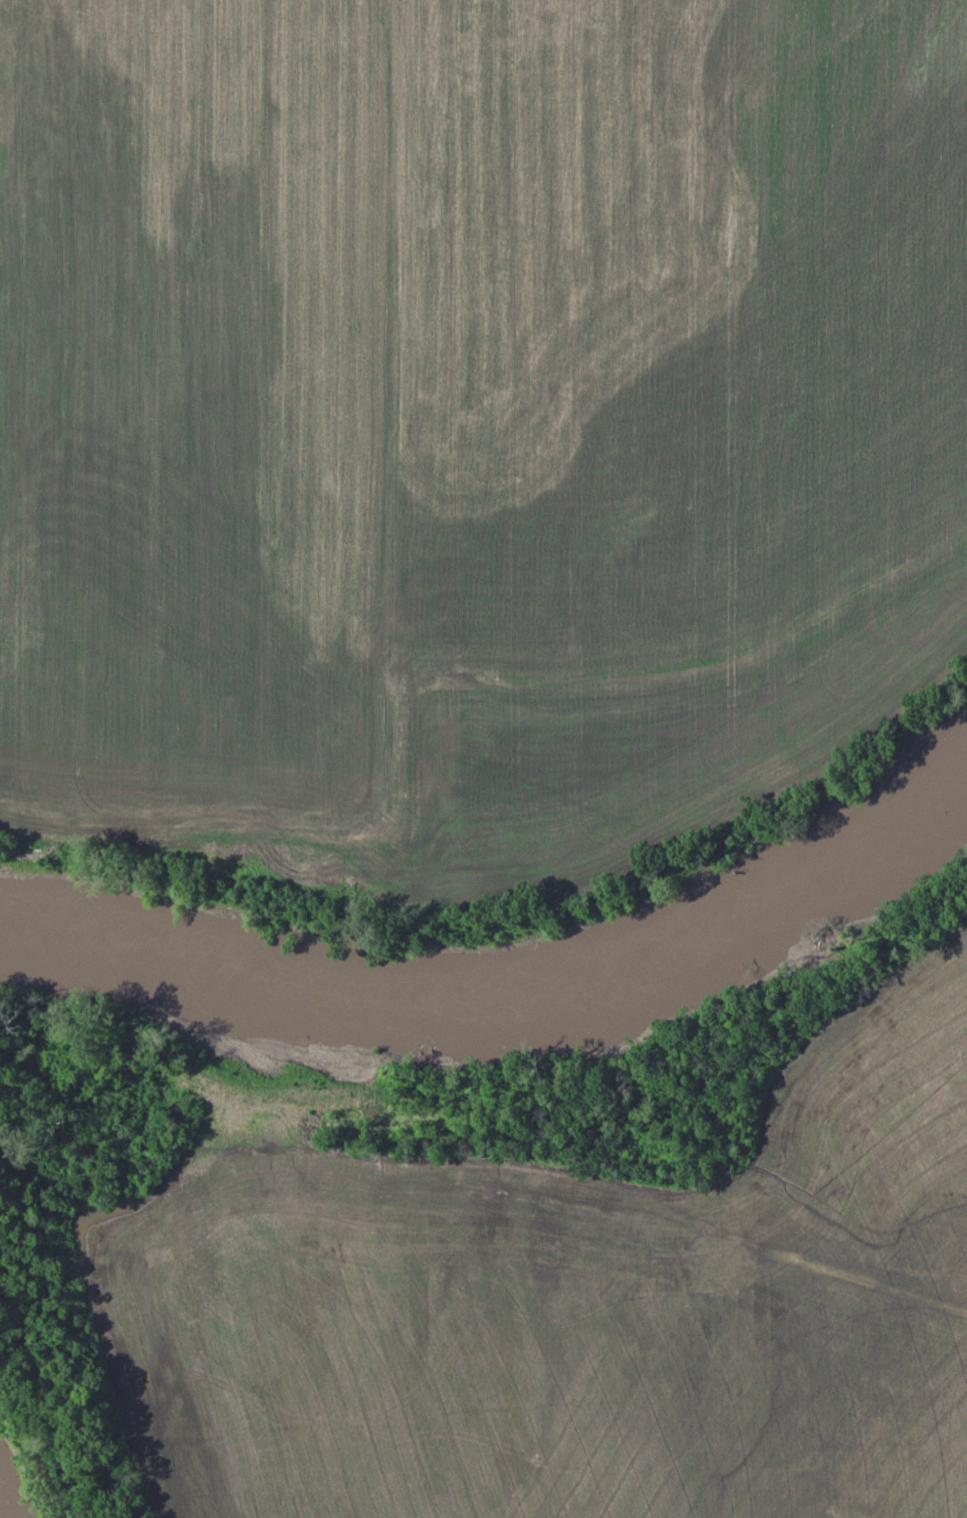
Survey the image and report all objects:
river: (510, 984)

